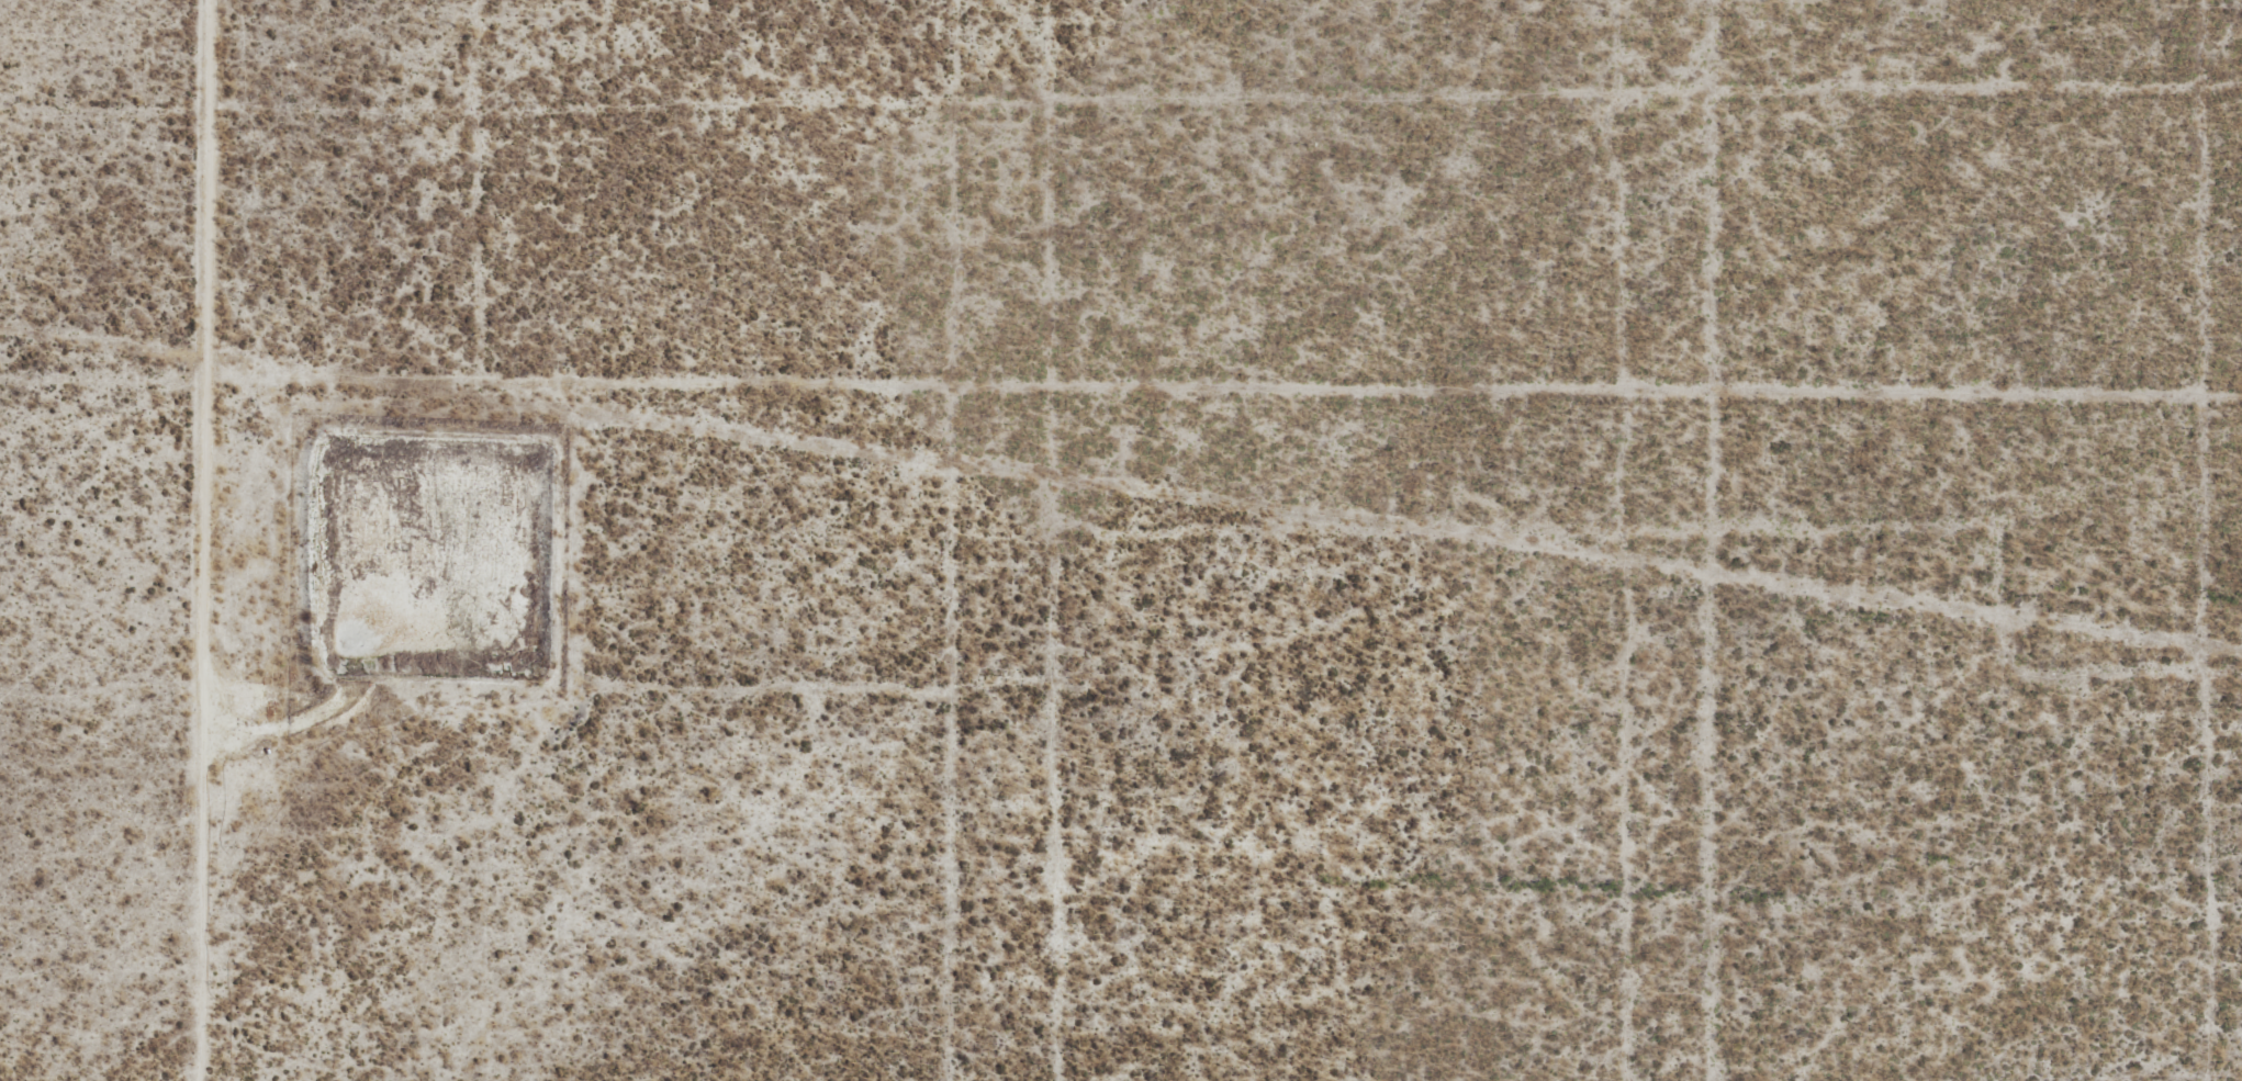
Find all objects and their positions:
road: (218, 540)

